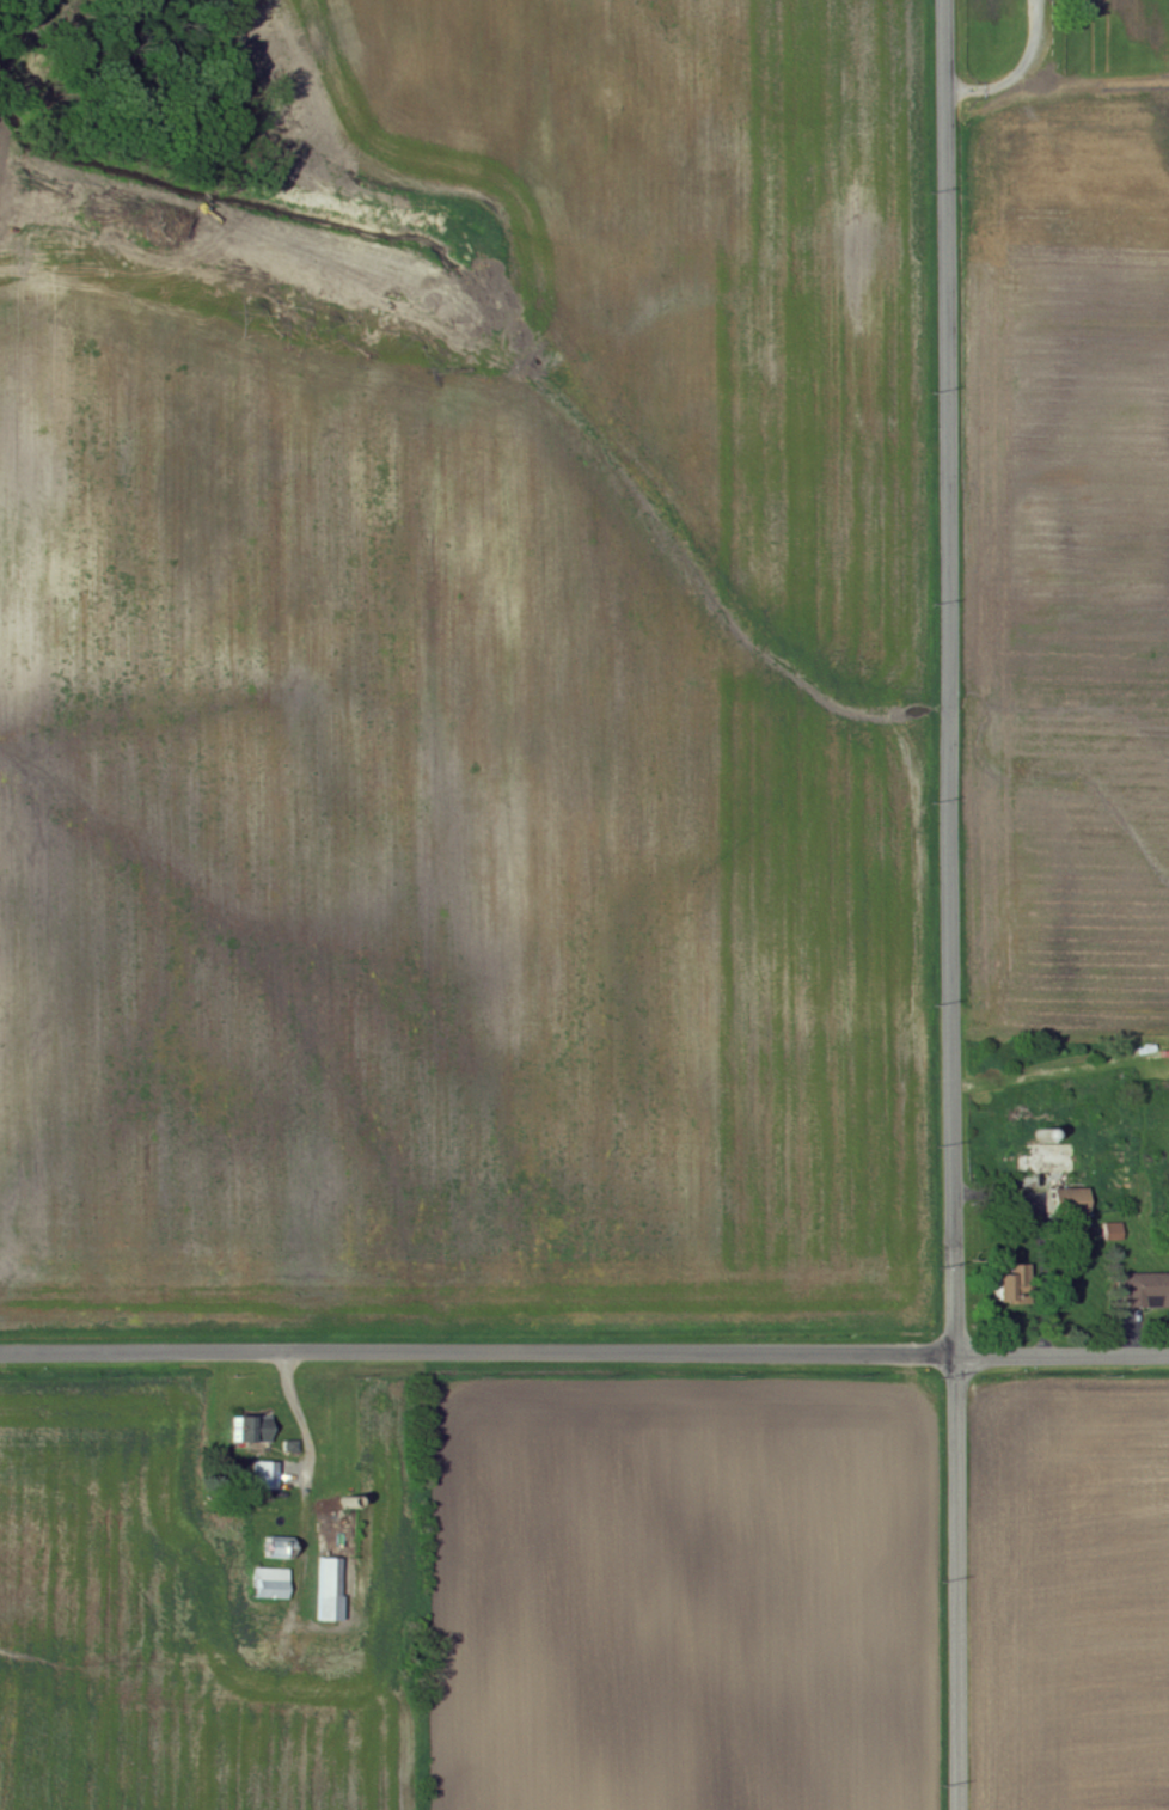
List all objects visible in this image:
road: (1017, 73)
road: (953, 904)
building: (1075, 1201)
building: (1114, 1231)
road: (1040, 1239)
building: (1145, 1291)
road: (584, 1355)
building: (252, 1427)
building: (268, 1476)
building: (276, 1548)
building: (271, 1584)
building: (331, 1590)

